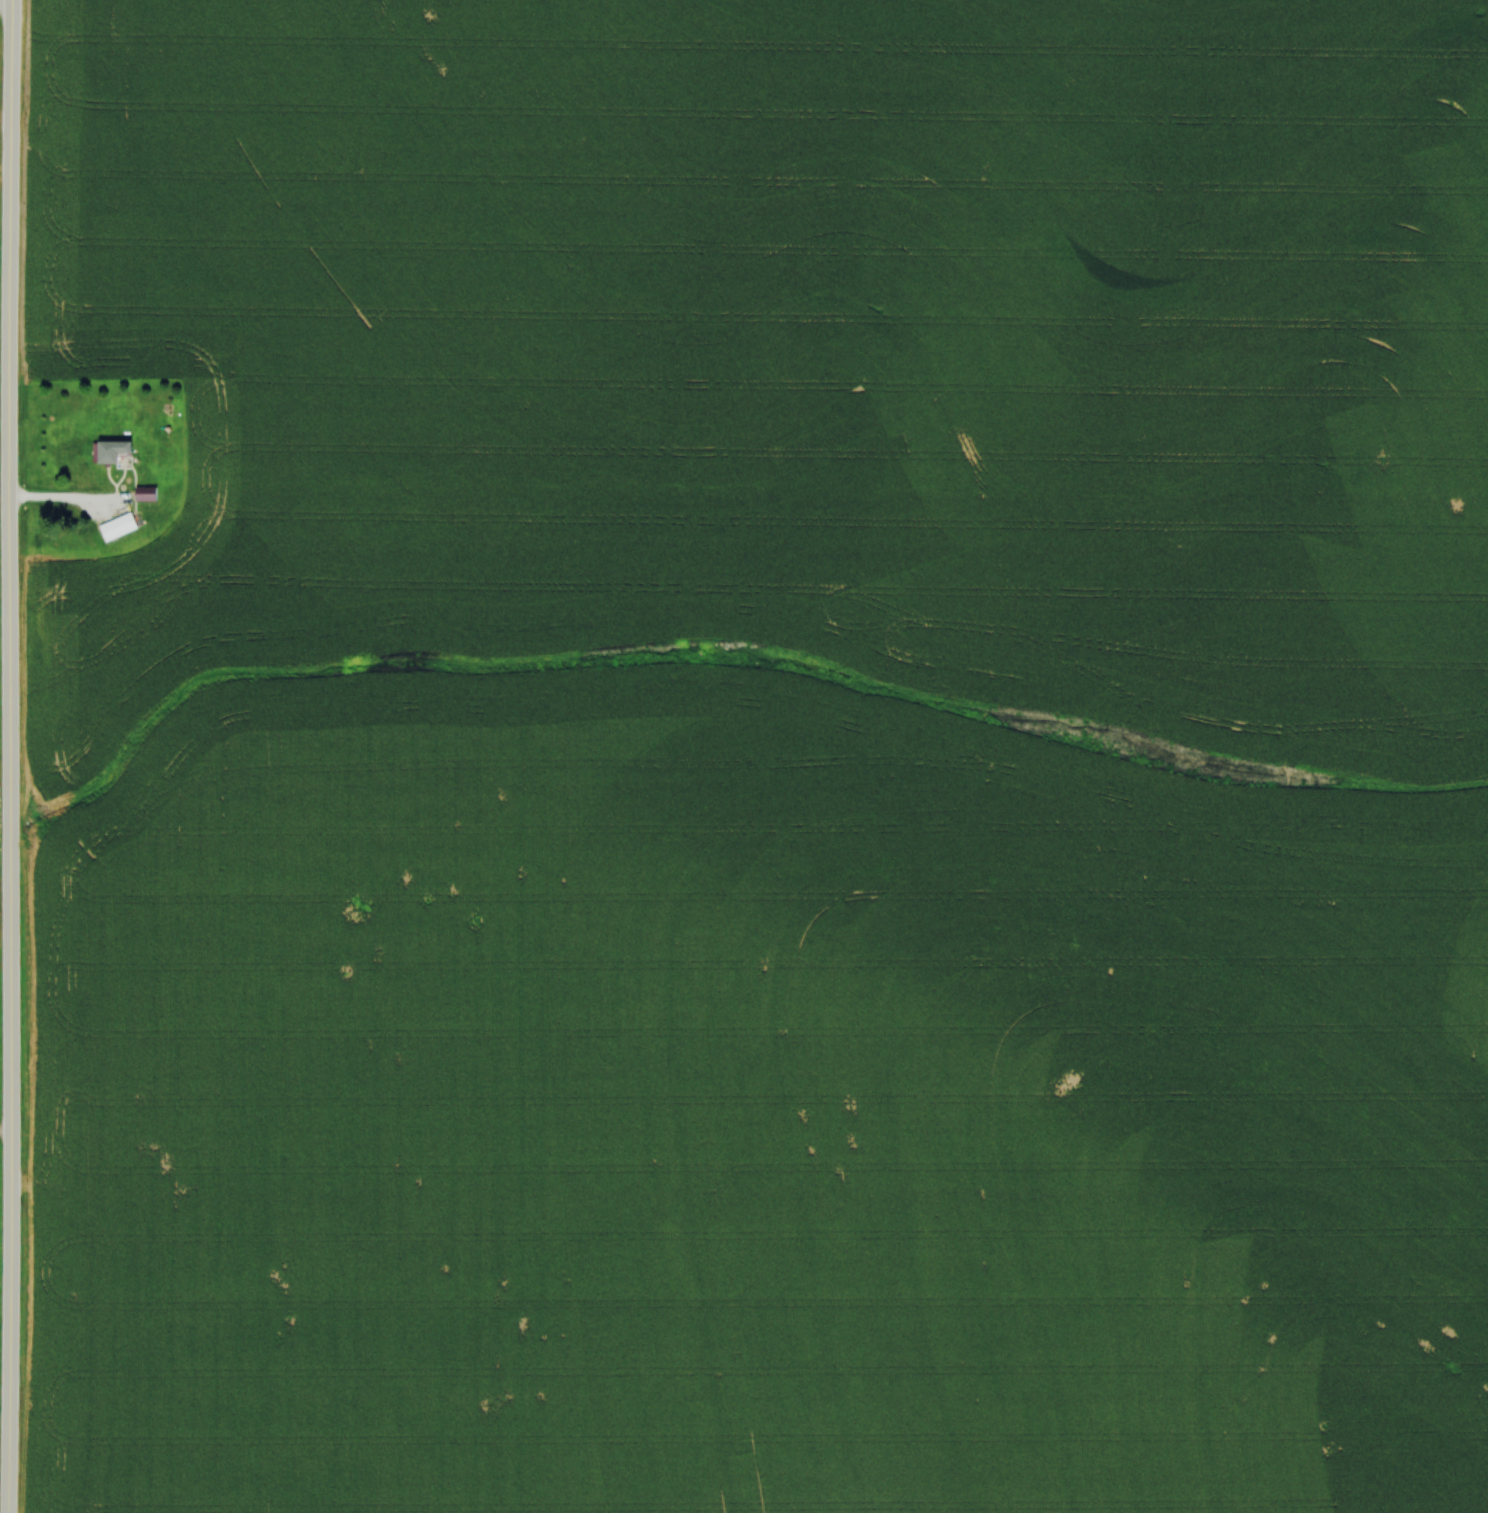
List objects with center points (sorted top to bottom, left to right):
building: (120, 454)
road: (66, 498)
building: (124, 529)
road: (9, 756)

